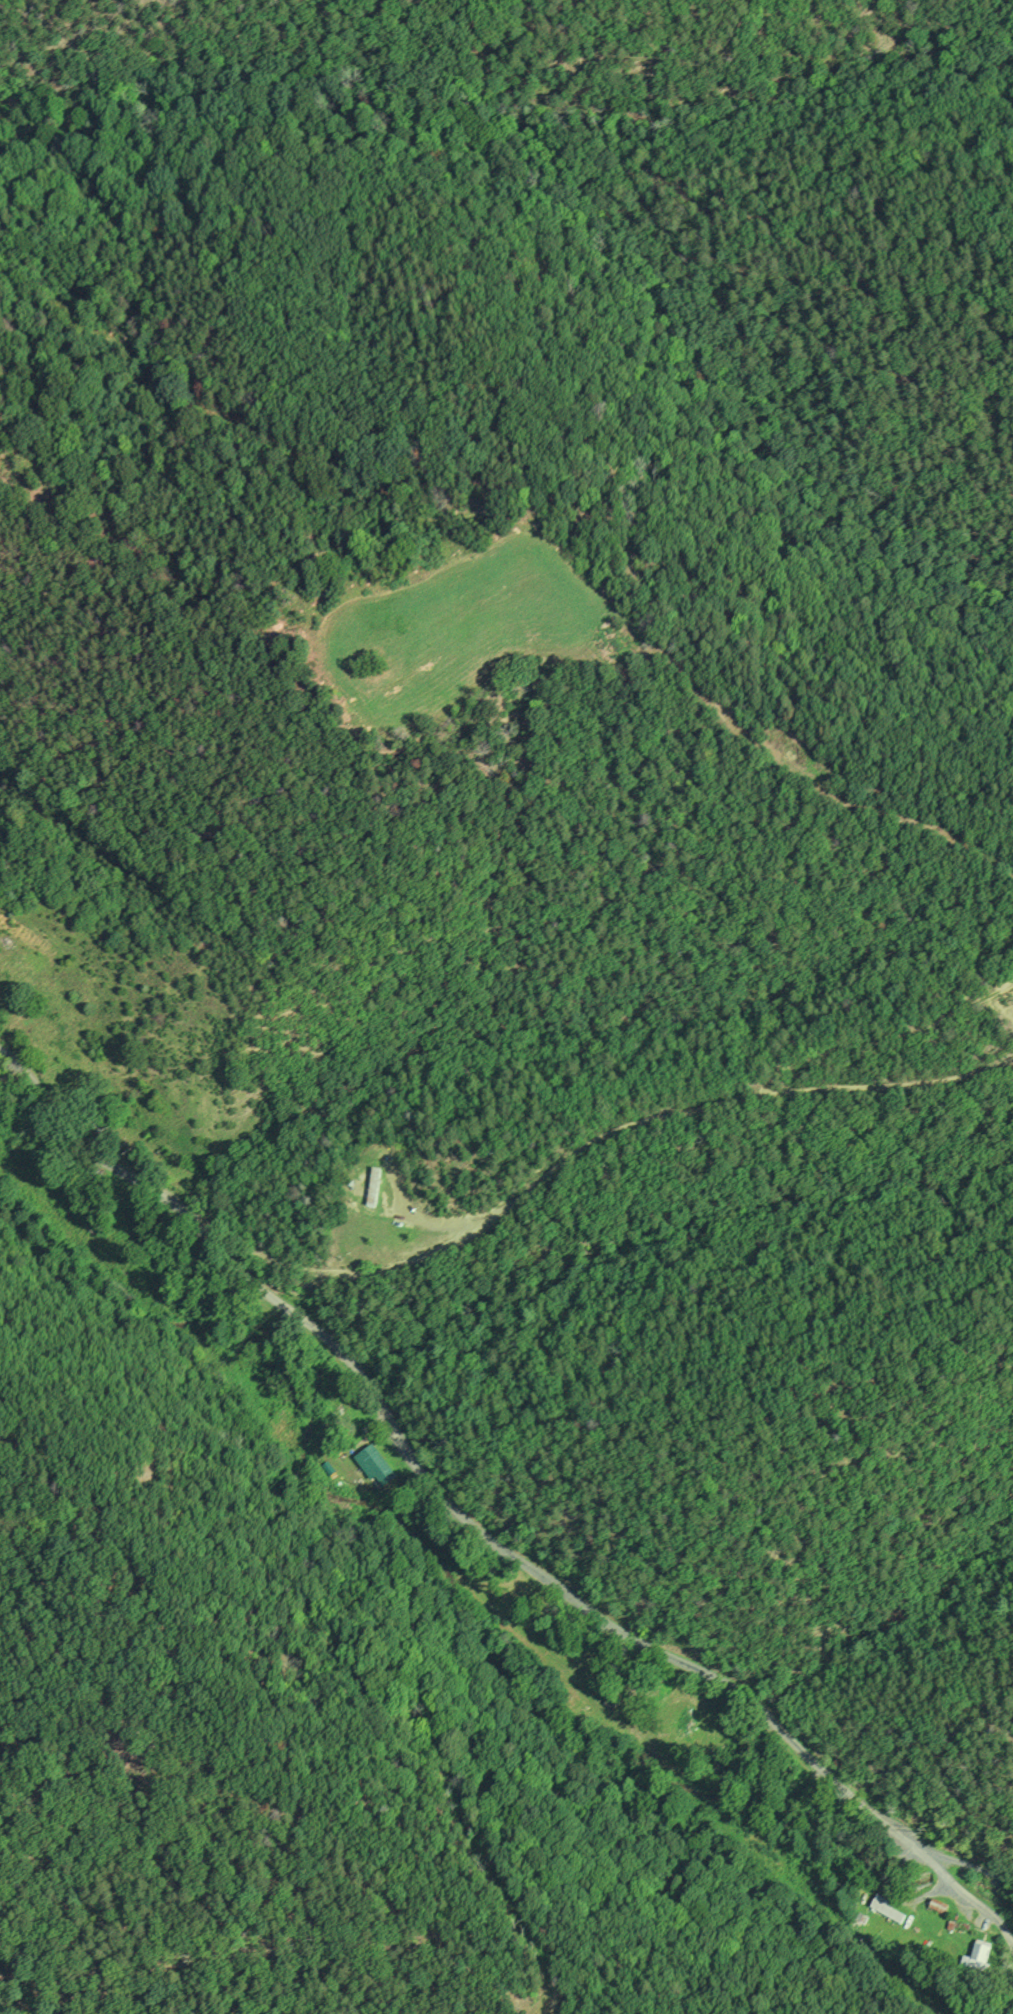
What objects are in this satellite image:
building: (93, 1112)
road: (615, 1131)
building: (377, 1467)
road: (476, 1527)
building: (684, 1726)
building: (881, 1905)
building: (977, 1956)

